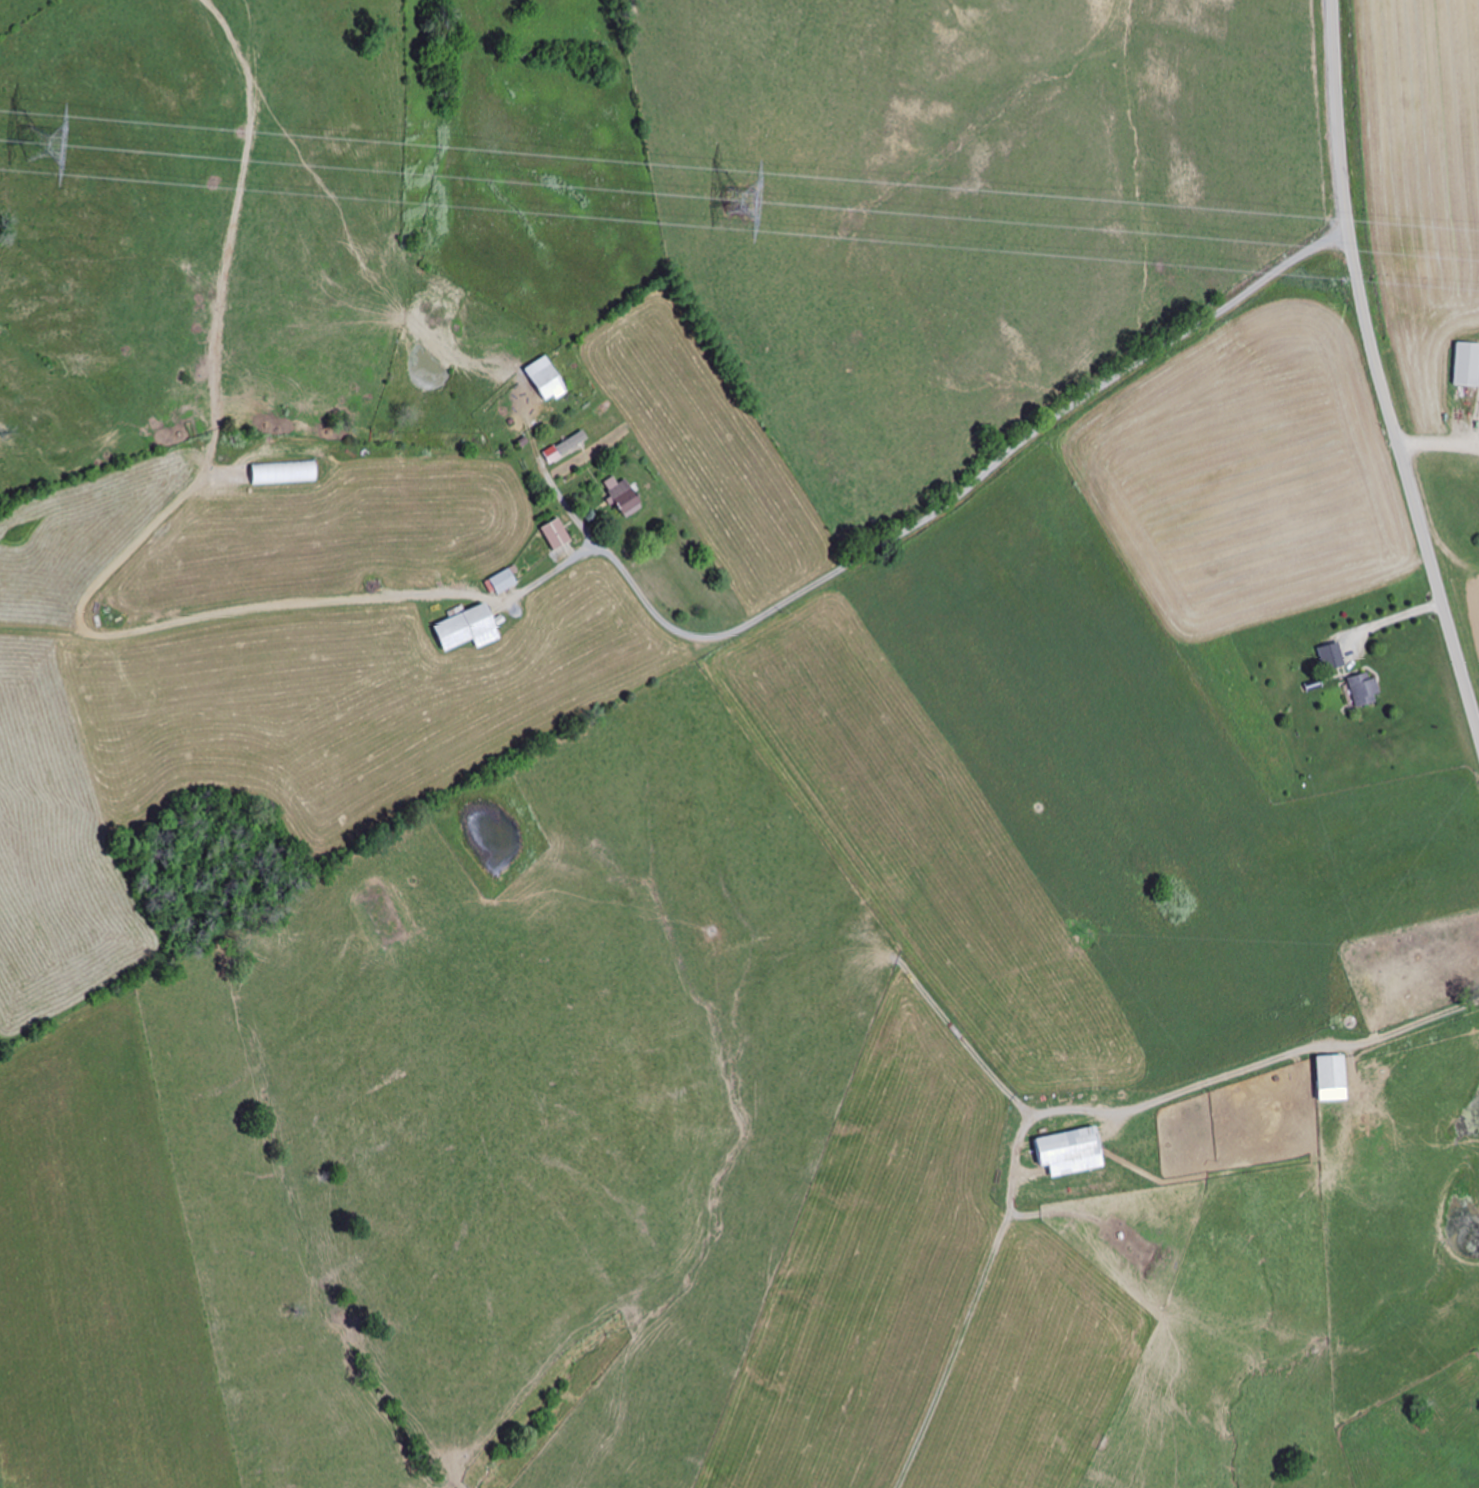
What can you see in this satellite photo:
power tower: (22, 146)
power tower: (754, 206)
building: (1466, 365)
road: (1378, 370)
building: (544, 380)
building: (281, 473)
building: (619, 496)
building: (555, 534)
road: (615, 576)
building: (502, 582)
building: (464, 629)
building: (1362, 690)
building: (1448, 959)
building: (1290, 1008)
building: (1331, 1073)
building: (1068, 1152)

